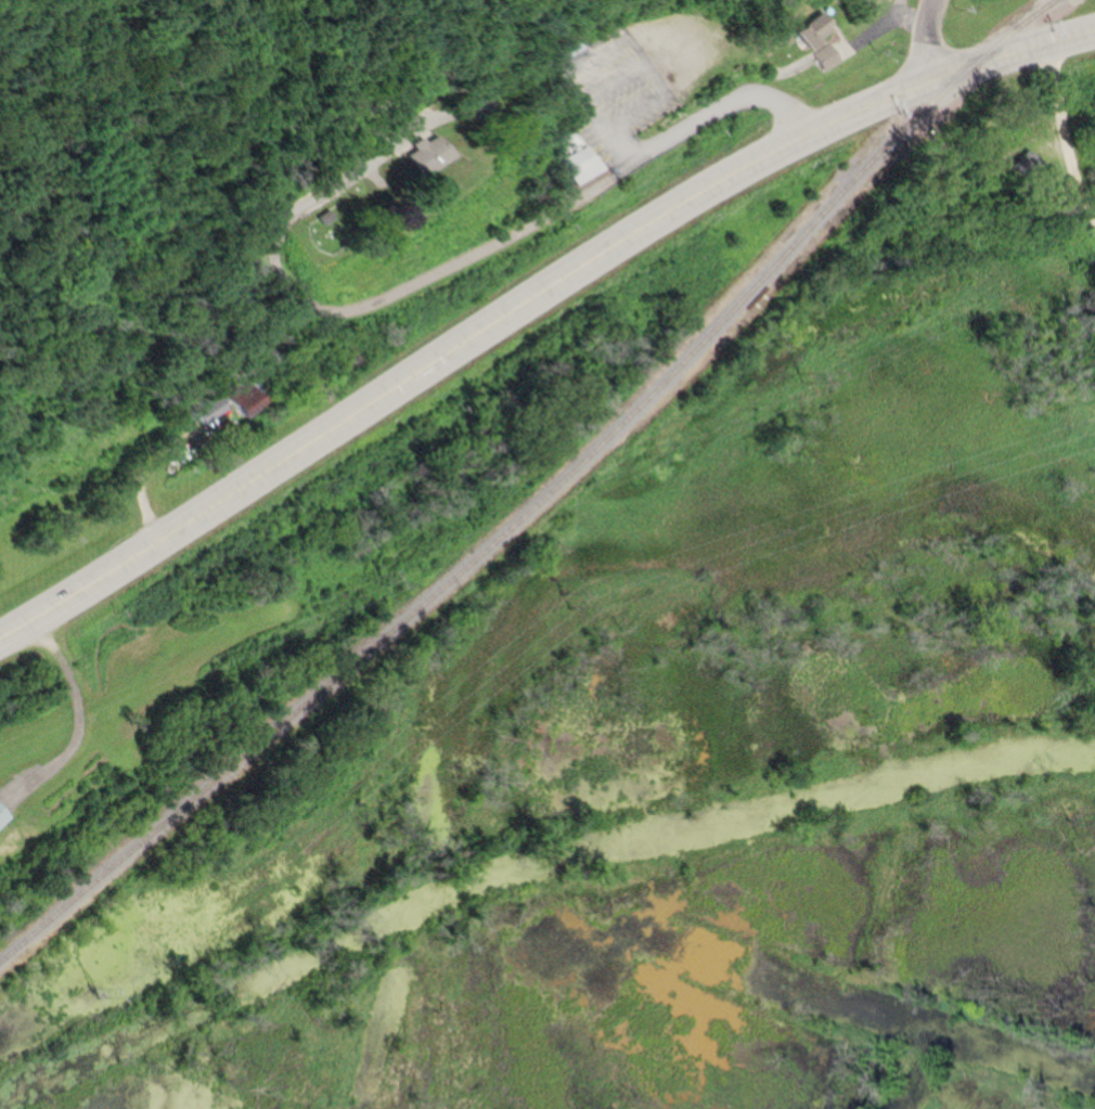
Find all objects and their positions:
road: (1062, 38)
road: (924, 40)
building: (575, 47)
building: (830, 55)
building: (577, 95)
road: (719, 109)
road: (1059, 130)
building: (438, 153)
building: (577, 154)
building: (997, 155)
road: (345, 306)
road: (504, 321)
power tower: (798, 377)
building: (253, 395)
building: (214, 405)
railway: (544, 497)
power tower: (379, 580)
power tower: (556, 590)
road: (77, 718)
building: (3, 814)
power tower: (95, 994)

